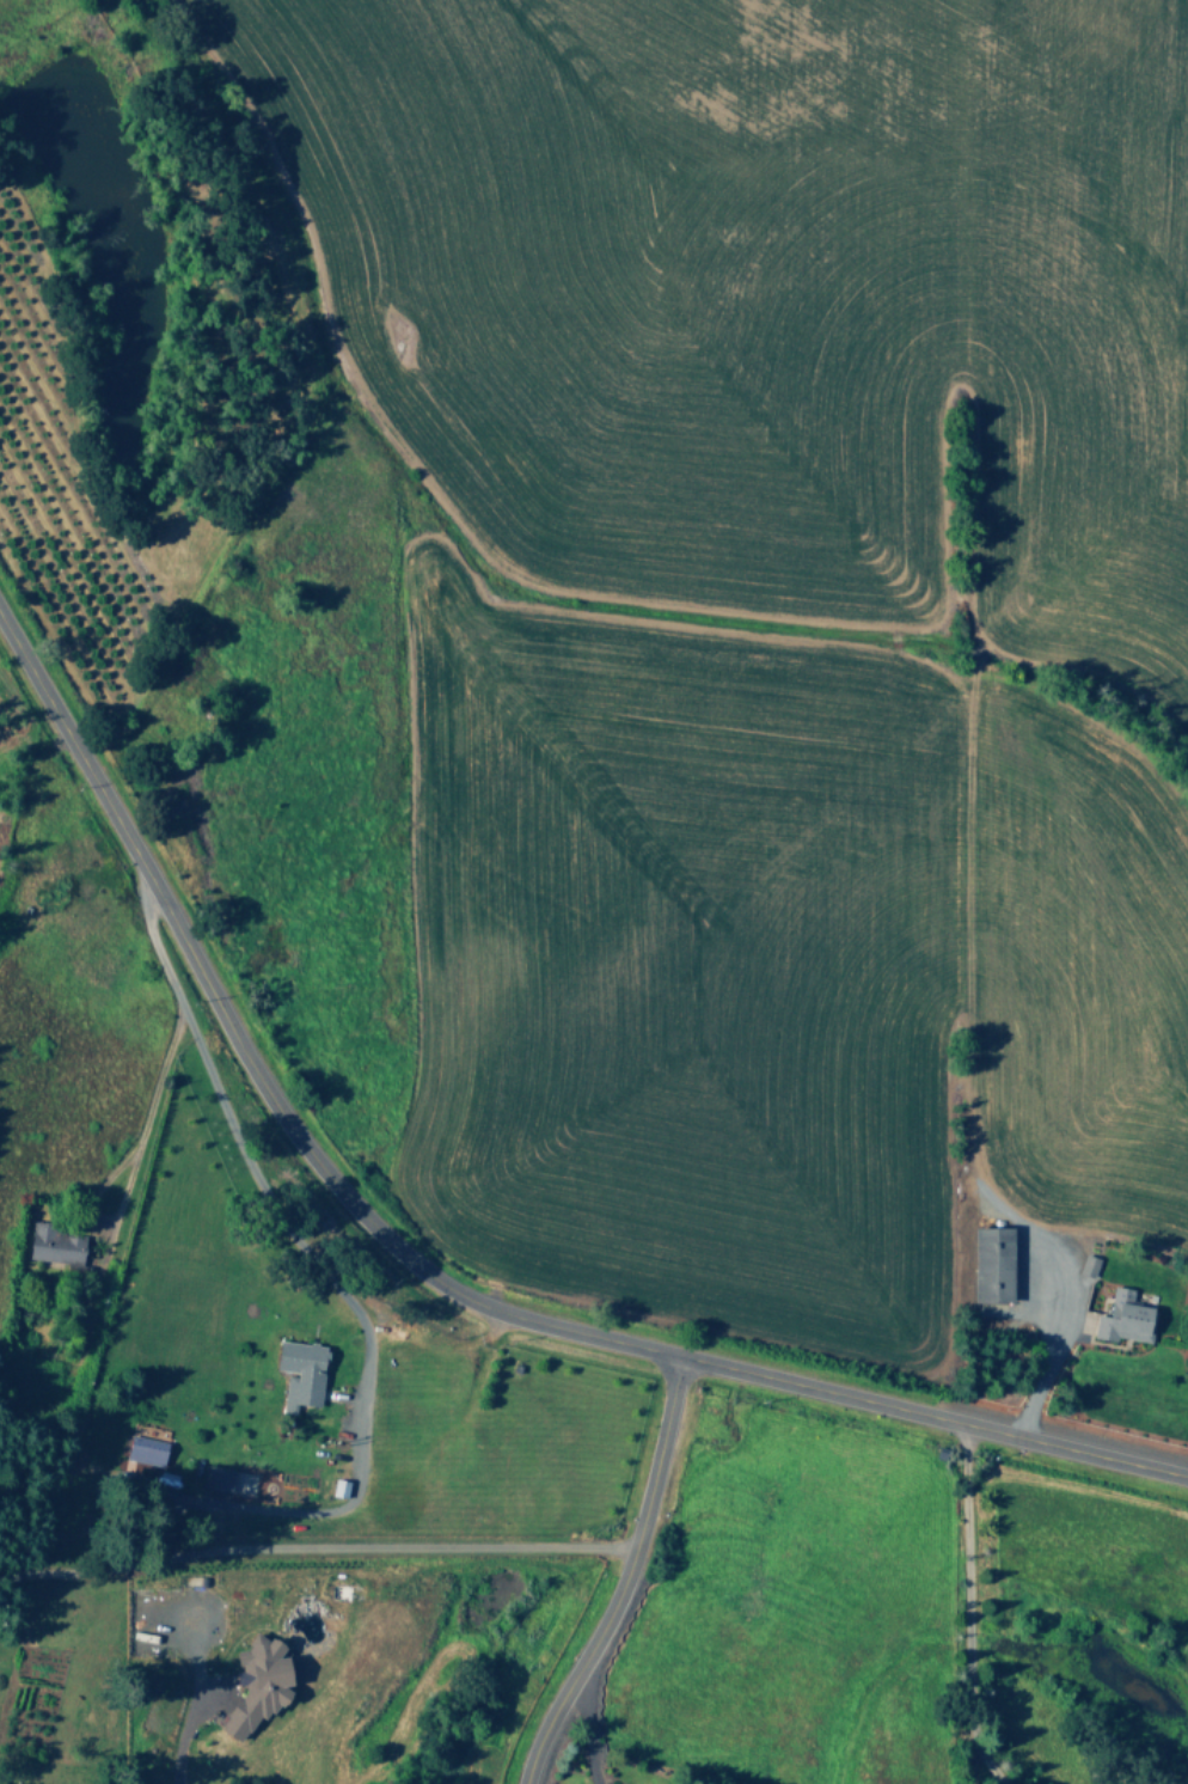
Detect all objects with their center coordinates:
building: (51, 1244)
building: (991, 1263)
building: (1085, 1265)
road: (428, 1275)
building: (1122, 1318)
building: (299, 1371)
building: (143, 1447)
building: (214, 1478)
road: (624, 1580)
building: (255, 1684)

